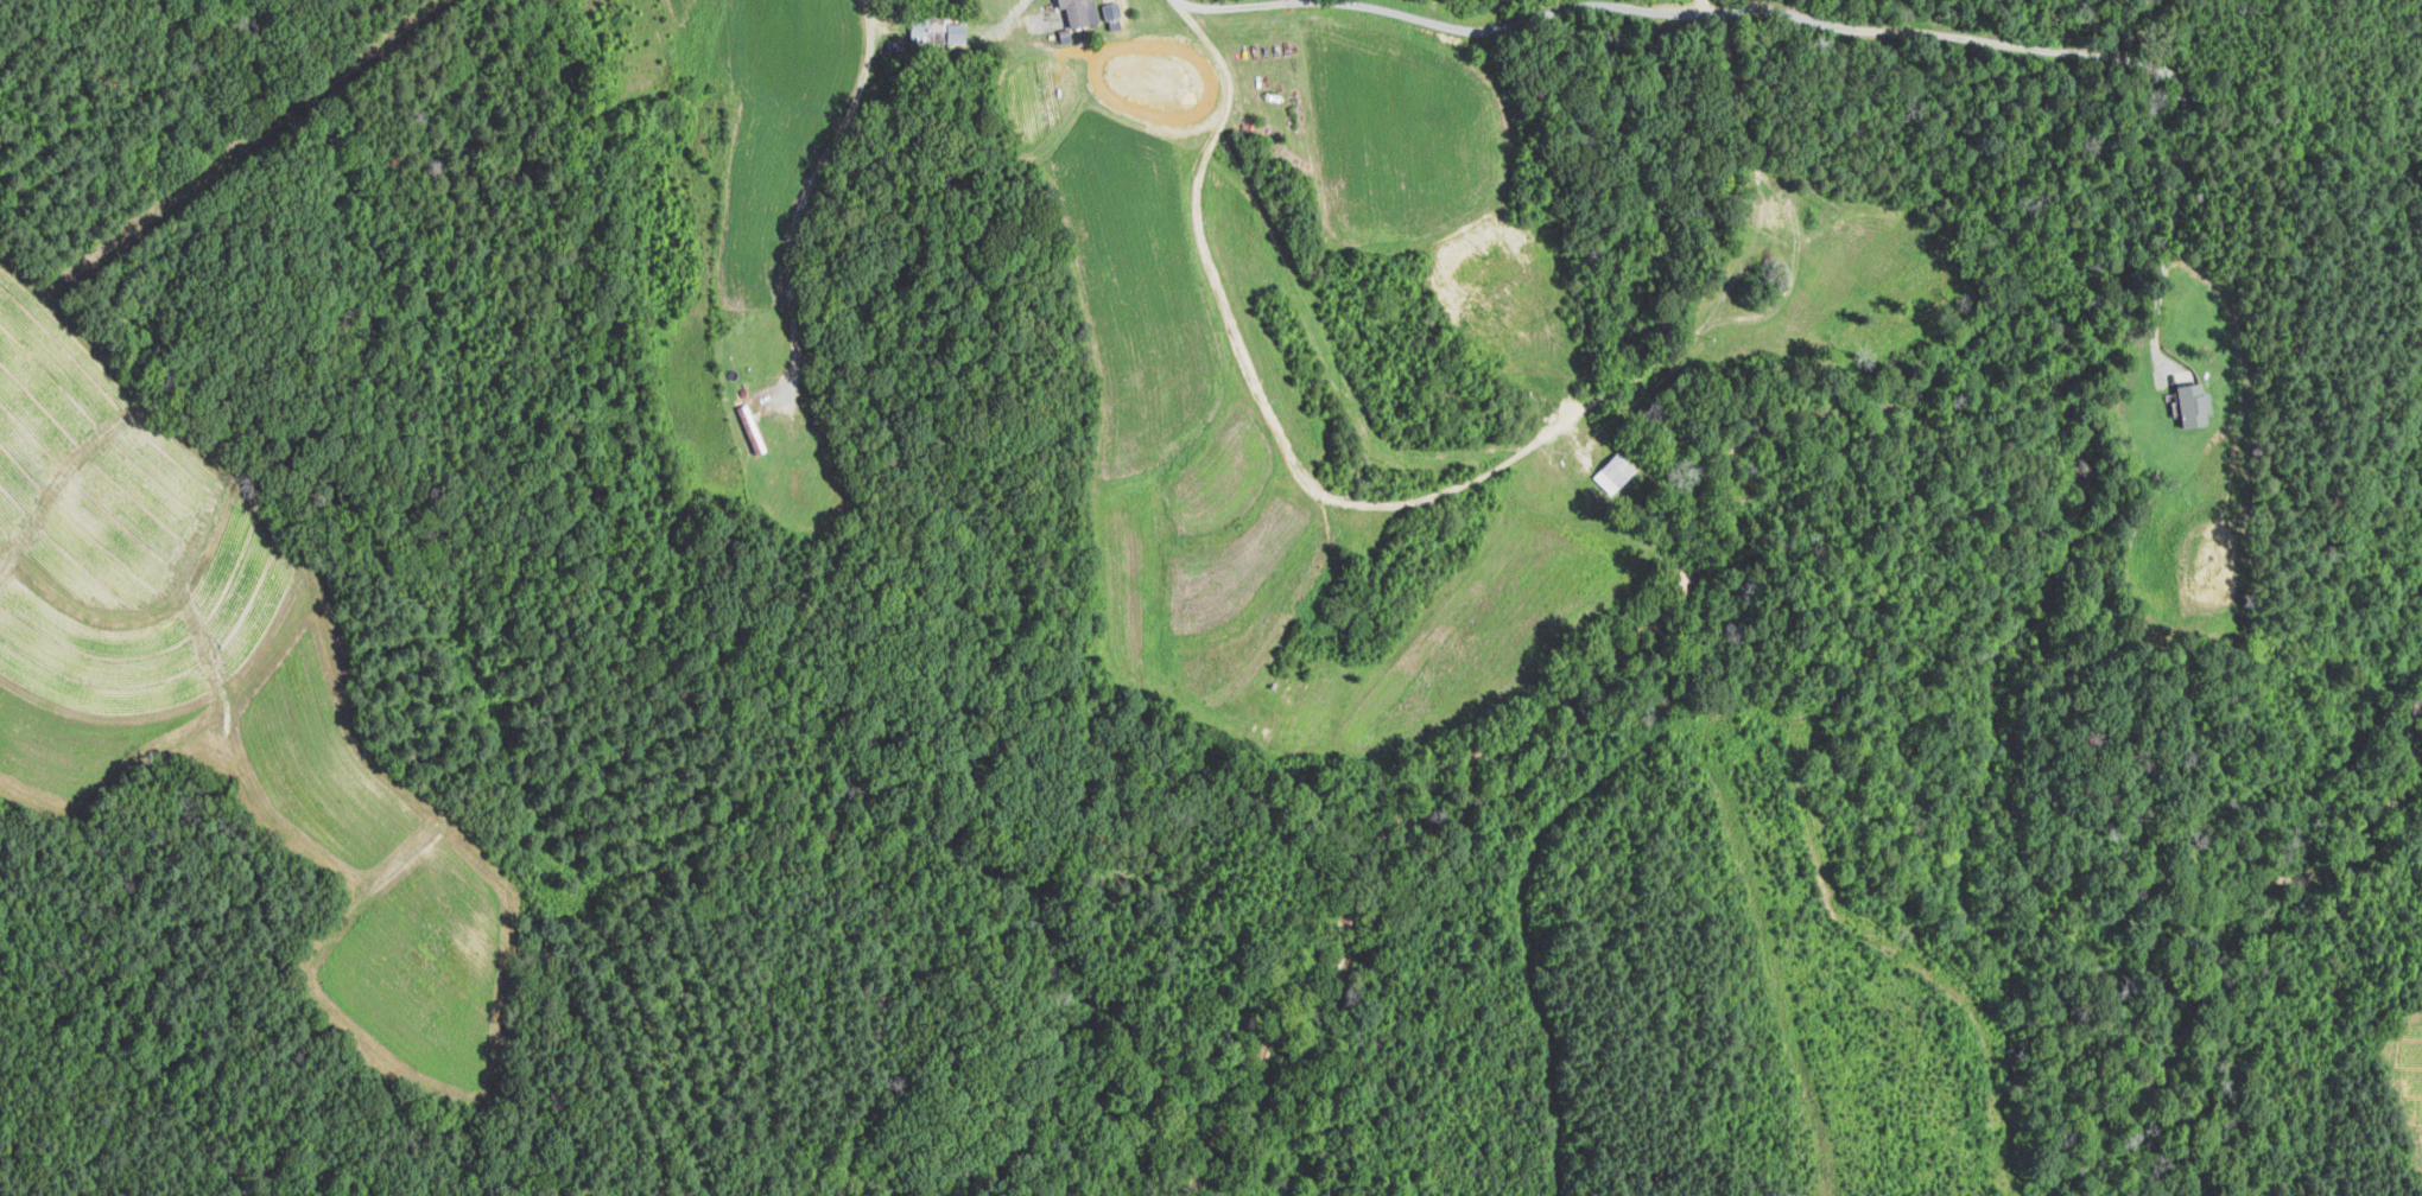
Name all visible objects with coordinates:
road: (1700, 7)
building: (1080, 11)
building: (1116, 11)
road: (1824, 21)
building: (962, 32)
road: (978, 34)
road: (1735, 88)
road: (810, 185)
road: (1263, 400)
building: (2187, 403)

